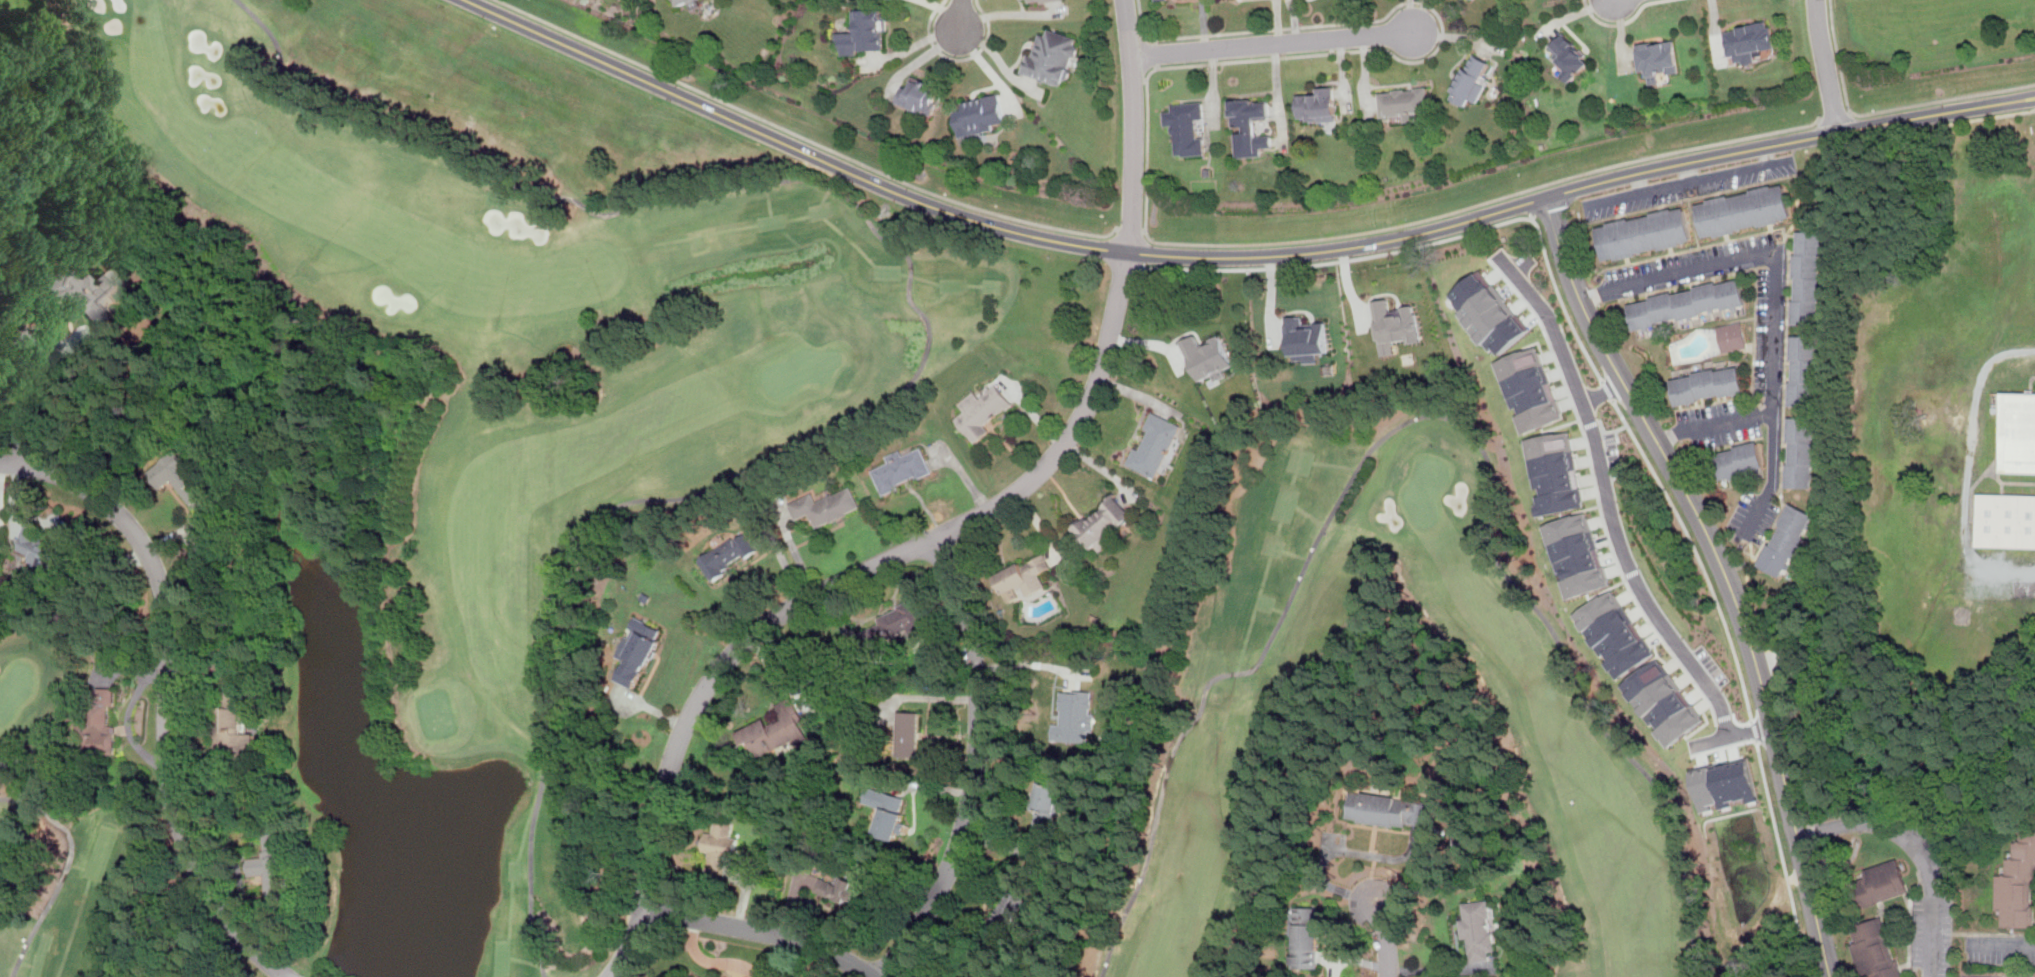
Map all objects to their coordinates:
building: (1156, 0)
building: (1039, 1)
building: (692, 3)
road: (942, 13)
road: (958, 13)
road: (1573, 13)
road: (1005, 14)
road: (1417, 15)
road: (1409, 16)
road: (1293, 20)
road: (1276, 21)
road: (1619, 22)
road: (1202, 24)
road: (1140, 28)
road: (1133, 30)
road: (1713, 31)
building: (865, 33)
road: (1621, 33)
road: (1455, 35)
road: (1154, 39)
road: (1270, 42)
building: (1749, 42)
road: (914, 45)
road: (1155, 53)
road: (922, 54)
building: (1570, 56)
building: (1053, 57)
road: (958, 58)
building: (1657, 58)
road: (999, 59)
road: (1156, 65)
road: (987, 66)
road: (1825, 66)
road: (1363, 74)
road: (1136, 78)
road: (1144, 78)
road: (1343, 78)
building: (1472, 78)
road: (1213, 84)
building: (921, 94)
road: (1277, 94)
building: (1404, 100)
building: (1317, 105)
street lamp: (1852, 106)
road: (1886, 109)
road: (1851, 113)
building: (981, 115)
road: (1835, 116)
road: (1968, 119)
building: (1249, 126)
building: (1186, 127)
road: (801, 137)
road: (1787, 141)
road: (1146, 163)
road: (1691, 170)
road: (1685, 180)
road: (1640, 181)
road: (1537, 205)
building: (1745, 209)
road: (1531, 215)
road: (987, 223)
road: (1129, 228)
road: (1143, 229)
building: (1646, 233)
building: (1809, 277)
road: (1775, 293)
building: (85, 298)
building: (1688, 304)
building: (1489, 313)
road: (23, 318)
building: (1395, 325)
building: (1732, 336)
building: (1307, 339)
road: (927, 341)
building: (1208, 357)
park: (801, 370)
building: (1806, 371)
road: (2029, 382)
building: (1708, 386)
building: (1530, 390)
road: (1602, 392)
park: (497, 395)
road: (30, 408)
building: (982, 411)
road: (1417, 415)
road: (1620, 415)
road: (1713, 422)
building: (2016, 431)
building: (1801, 452)
building: (1735, 462)
road: (1968, 467)
building: (901, 469)
building: (1554, 473)
road: (2007, 481)
building: (184, 482)
road: (1970, 484)
road: (1999, 487)
park: (1426, 491)
road: (1606, 497)
building: (826, 506)
building: (2004, 520)
building: (1104, 524)
building: (200, 529)
road: (947, 530)
building: (1786, 539)
building: (727, 555)
building: (1577, 555)
road: (1724, 573)
building: (1025, 575)
building: (896, 624)
building: (1615, 633)
building: (637, 650)
road: (1021, 664)
park: (1234, 676)
park: (16, 689)
road: (166, 691)
building: (1663, 702)
building: (231, 714)
building: (1074, 717)
building: (97, 723)
building: (775, 730)
building: (909, 733)
road: (1733, 734)
road: (974, 766)
building: (1724, 784)
road: (936, 787)
building: (1047, 807)
building: (1387, 809)
building: (887, 811)
park: (54, 824)
road: (1917, 847)
building: (719, 850)
road: (49, 868)
building: (274, 869)
building: (2015, 880)
building: (1879, 883)
building: (846, 887)
building: (2029, 895)
building: (1009, 912)
building: (1478, 929)
road: (764, 934)
building: (1306, 937)
road: (1381, 941)
road: (2002, 943)
building: (1887, 946)
building: (1870, 950)
road: (713, 962)
road: (827, 965)

